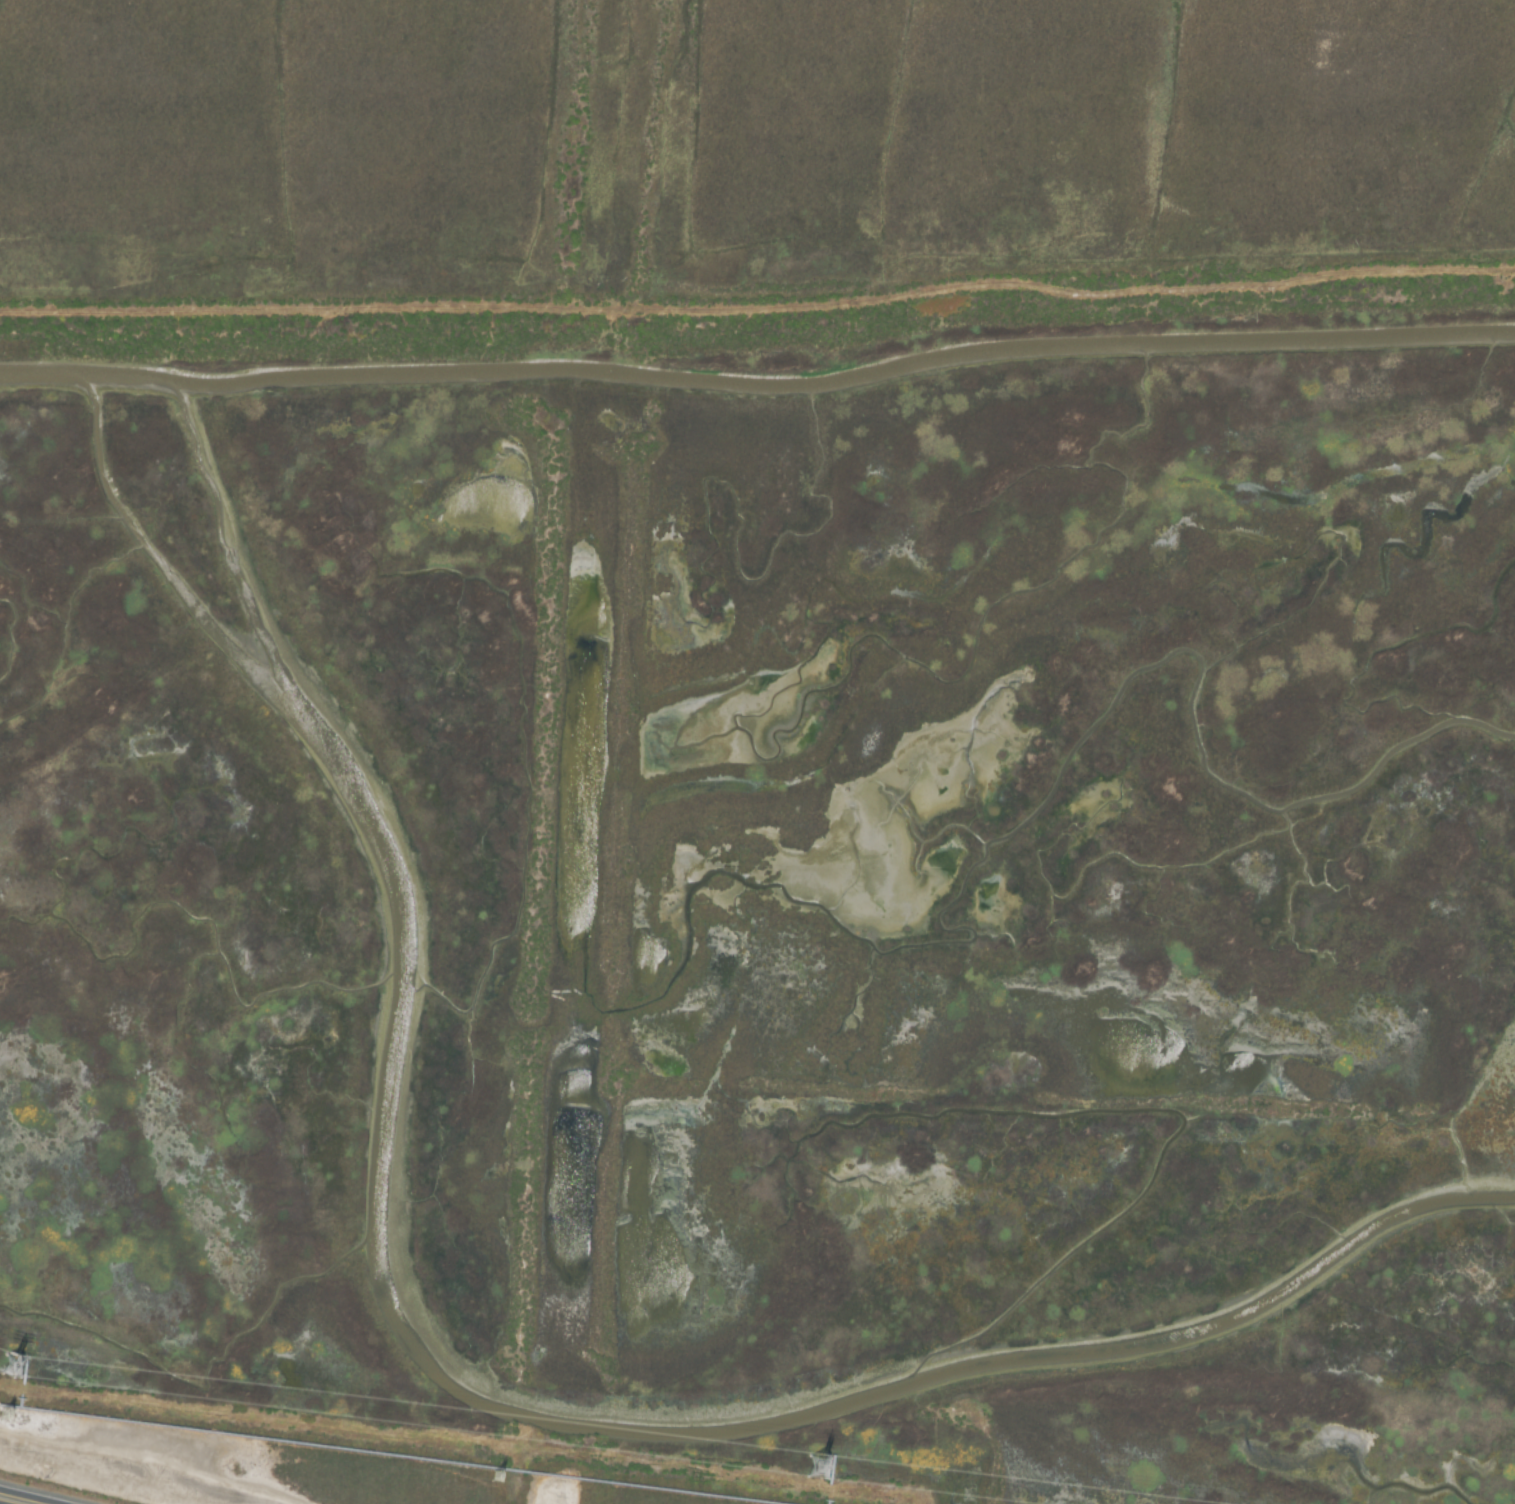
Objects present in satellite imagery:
power tower: (10, 1371)
power tower: (11, 1418)
power tower: (815, 1473)
power tower: (502, 1478)
road: (18, 1499)

